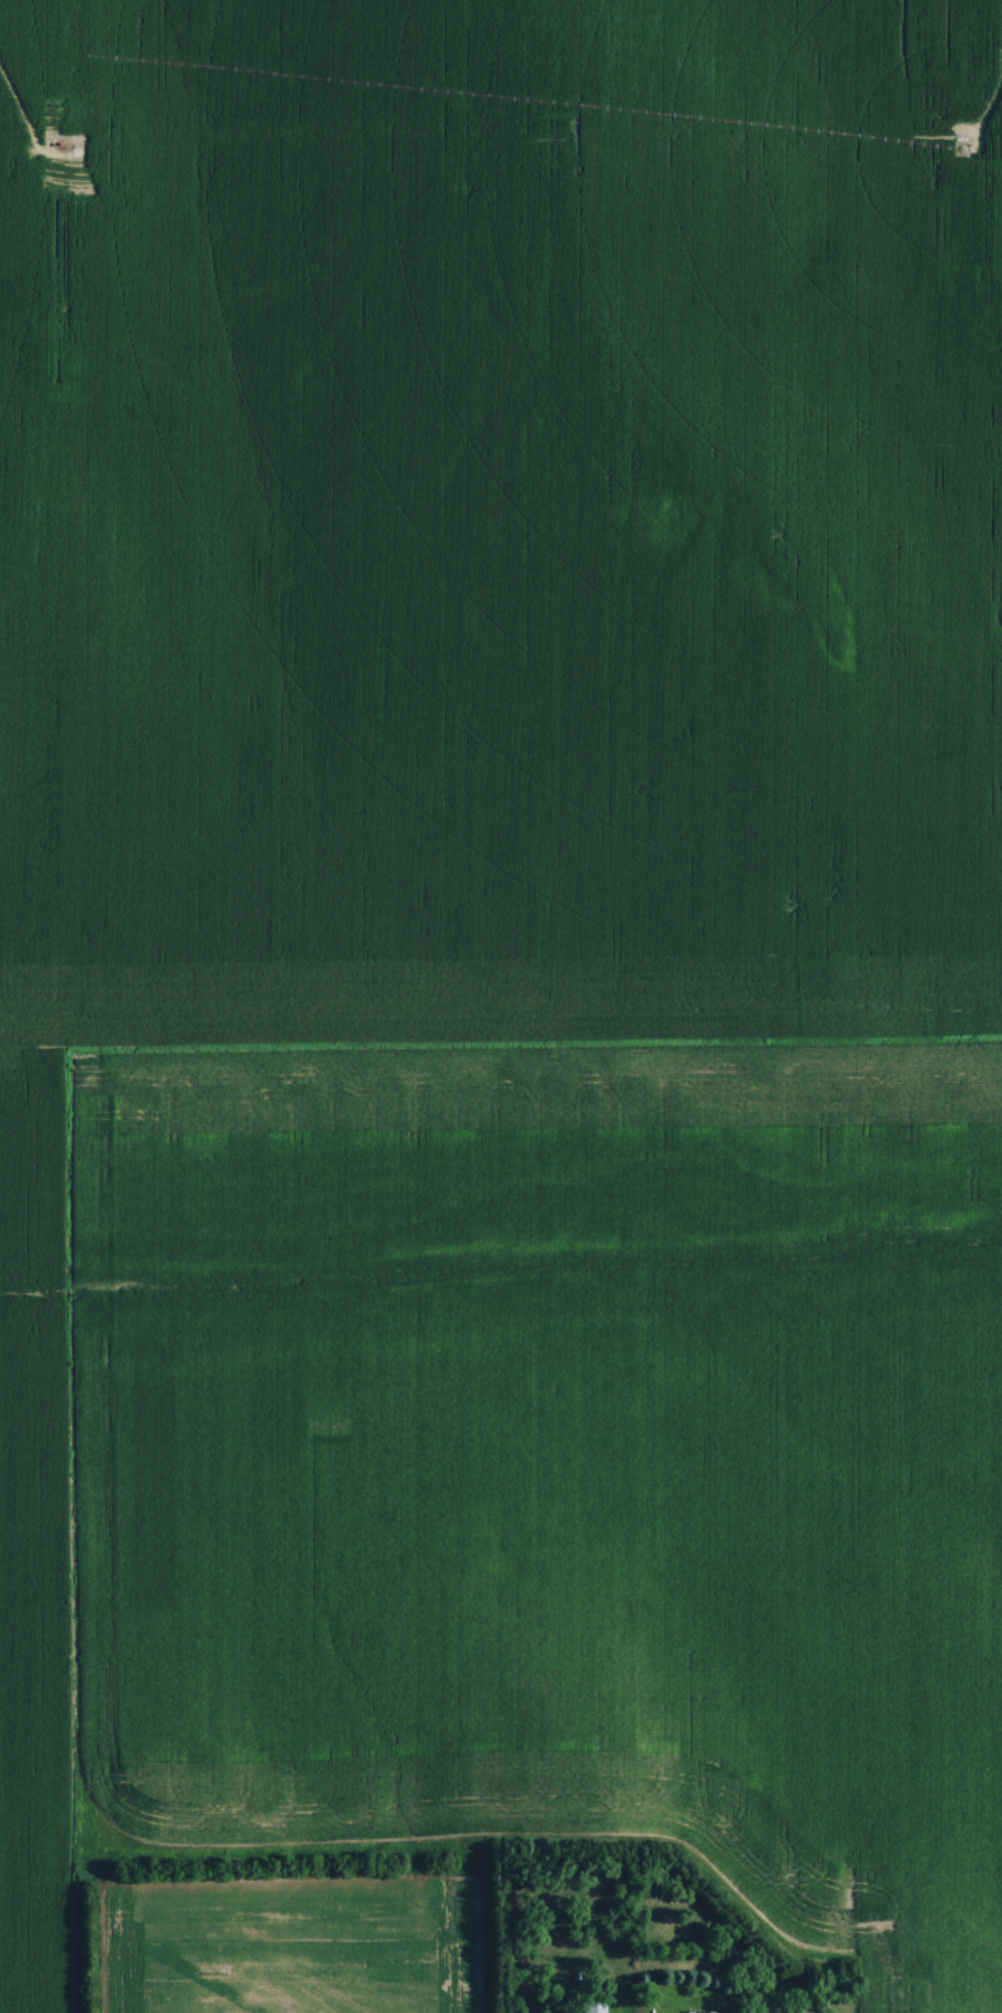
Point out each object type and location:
building: (598, 2007)
building: (707, 2012)

